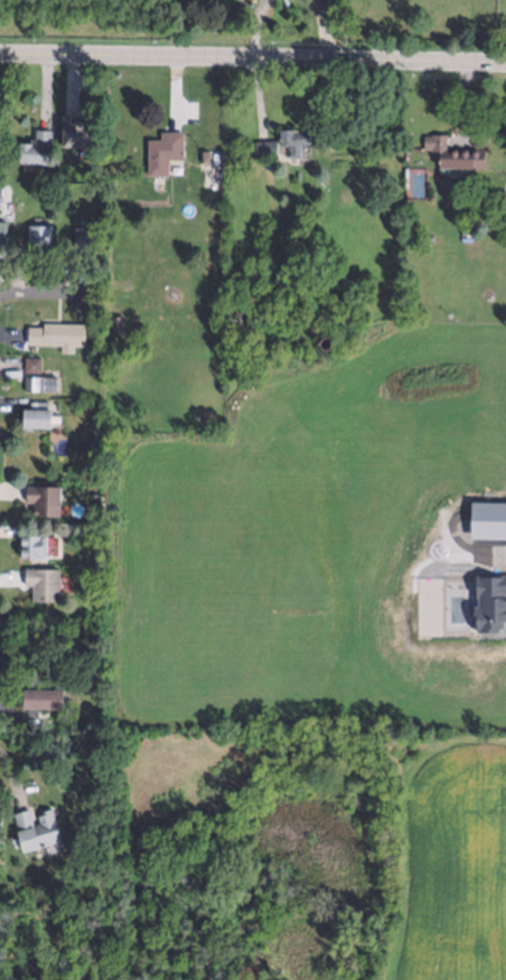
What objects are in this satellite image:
road: (258, 29)
road: (323, 31)
road: (253, 59)
building: (78, 134)
building: (292, 139)
building: (264, 149)
building: (32, 151)
building: (163, 152)
building: (201, 154)
building: (454, 154)
building: (95, 188)
building: (50, 191)
building: (50, 210)
building: (464, 228)
building: (1, 237)
building: (37, 238)
building: (81, 238)
building: (470, 248)
road: (42, 292)
building: (117, 321)
building: (57, 335)
building: (323, 340)
building: (35, 377)
building: (37, 414)
building: (93, 445)
building: (43, 501)
building: (30, 545)
building: (38, 581)
building: (42, 704)
building: (32, 826)

